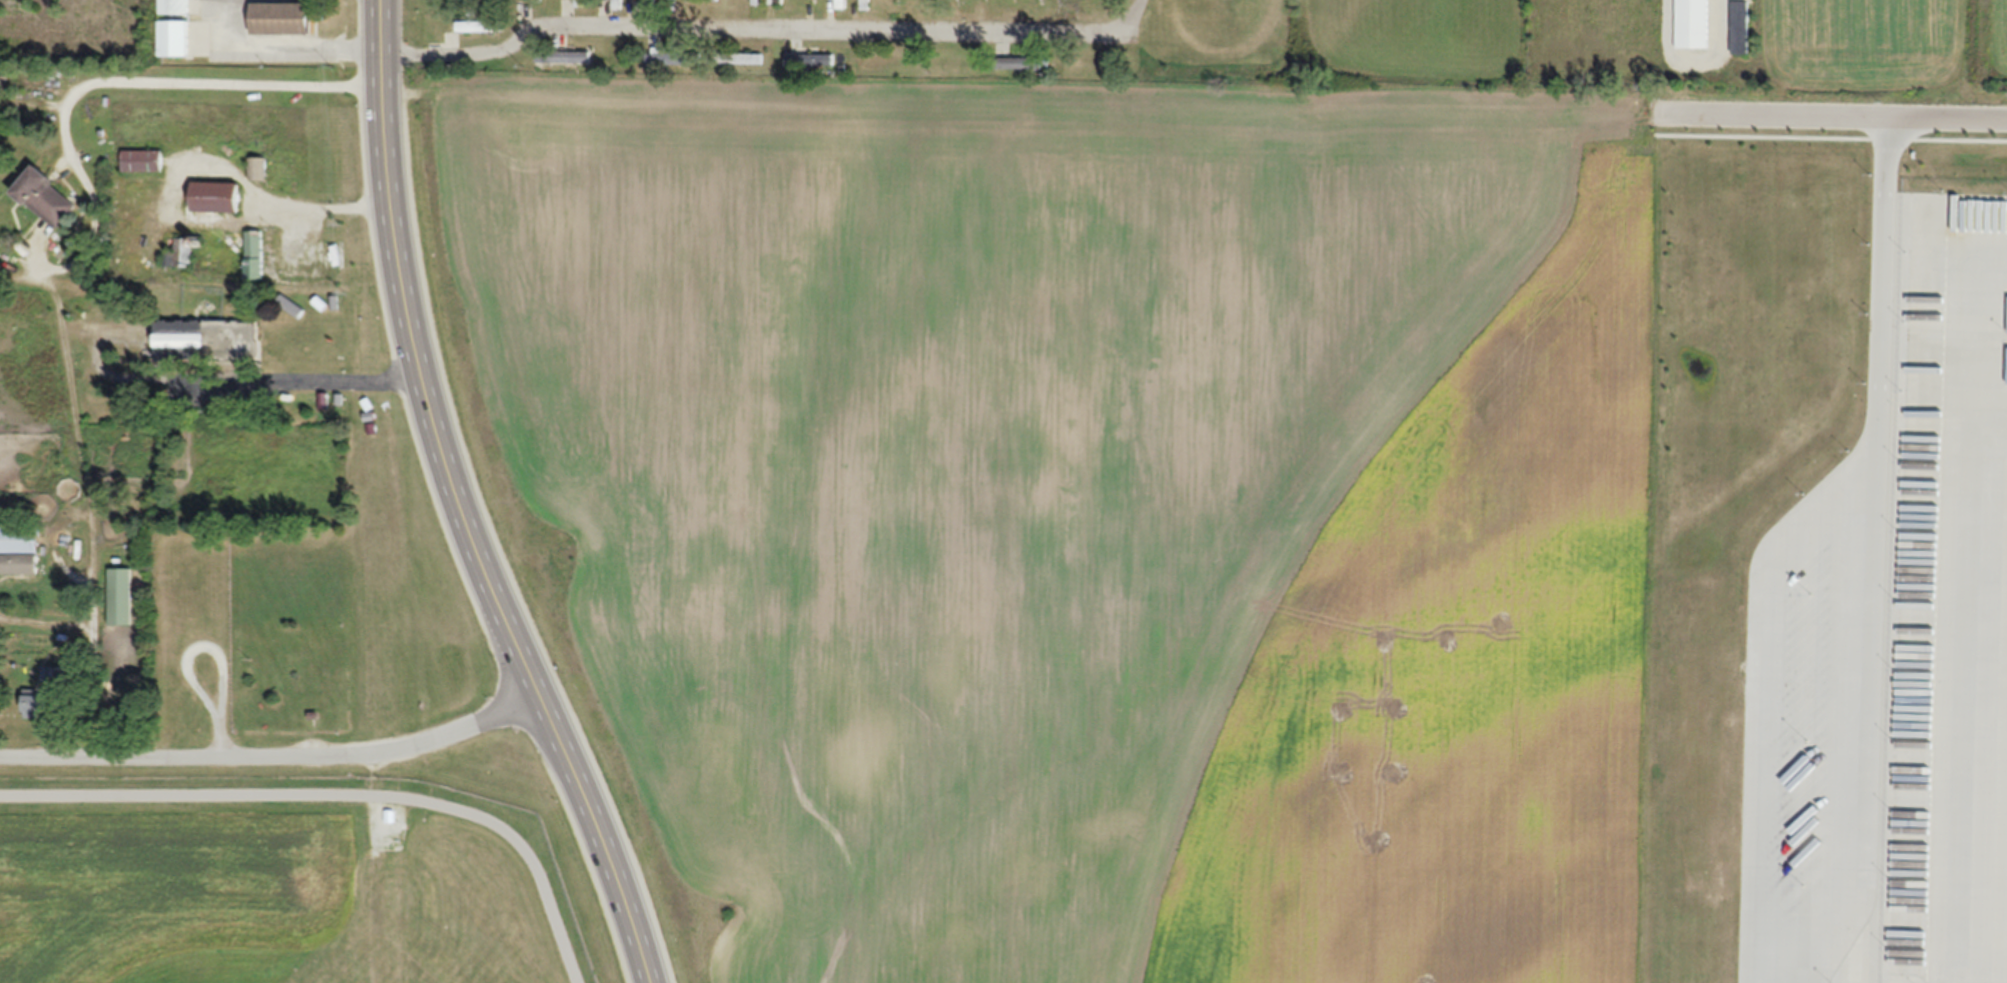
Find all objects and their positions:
building: (535, 0)
building: (778, 1)
building: (756, 2)
building: (580, 3)
building: (650, 3)
building: (618, 4)
building: (840, 4)
building: (865, 4)
building: (173, 6)
building: (281, 19)
building: (1691, 24)
building: (479, 26)
road: (768, 26)
building: (1739, 28)
road: (287, 43)
road: (1691, 53)
building: (565, 57)
building: (673, 58)
building: (740, 58)
building: (810, 59)
building: (1021, 64)
road: (179, 81)
road: (1833, 113)
building: (143, 160)
building: (258, 168)
building: (217, 197)
building: (45, 198)
building: (180, 253)
building: (254, 255)
road: (1945, 264)
building: (207, 341)
road: (419, 359)
road: (309, 382)
crop: (1069, 509)
road: (1779, 530)
road: (1635, 536)
building: (18, 551)
building: (118, 597)
road: (196, 644)
park: (324, 645)
building: (51, 675)
building: (32, 703)
road: (220, 741)
road: (276, 759)
road: (595, 841)
airport: (302, 872)

